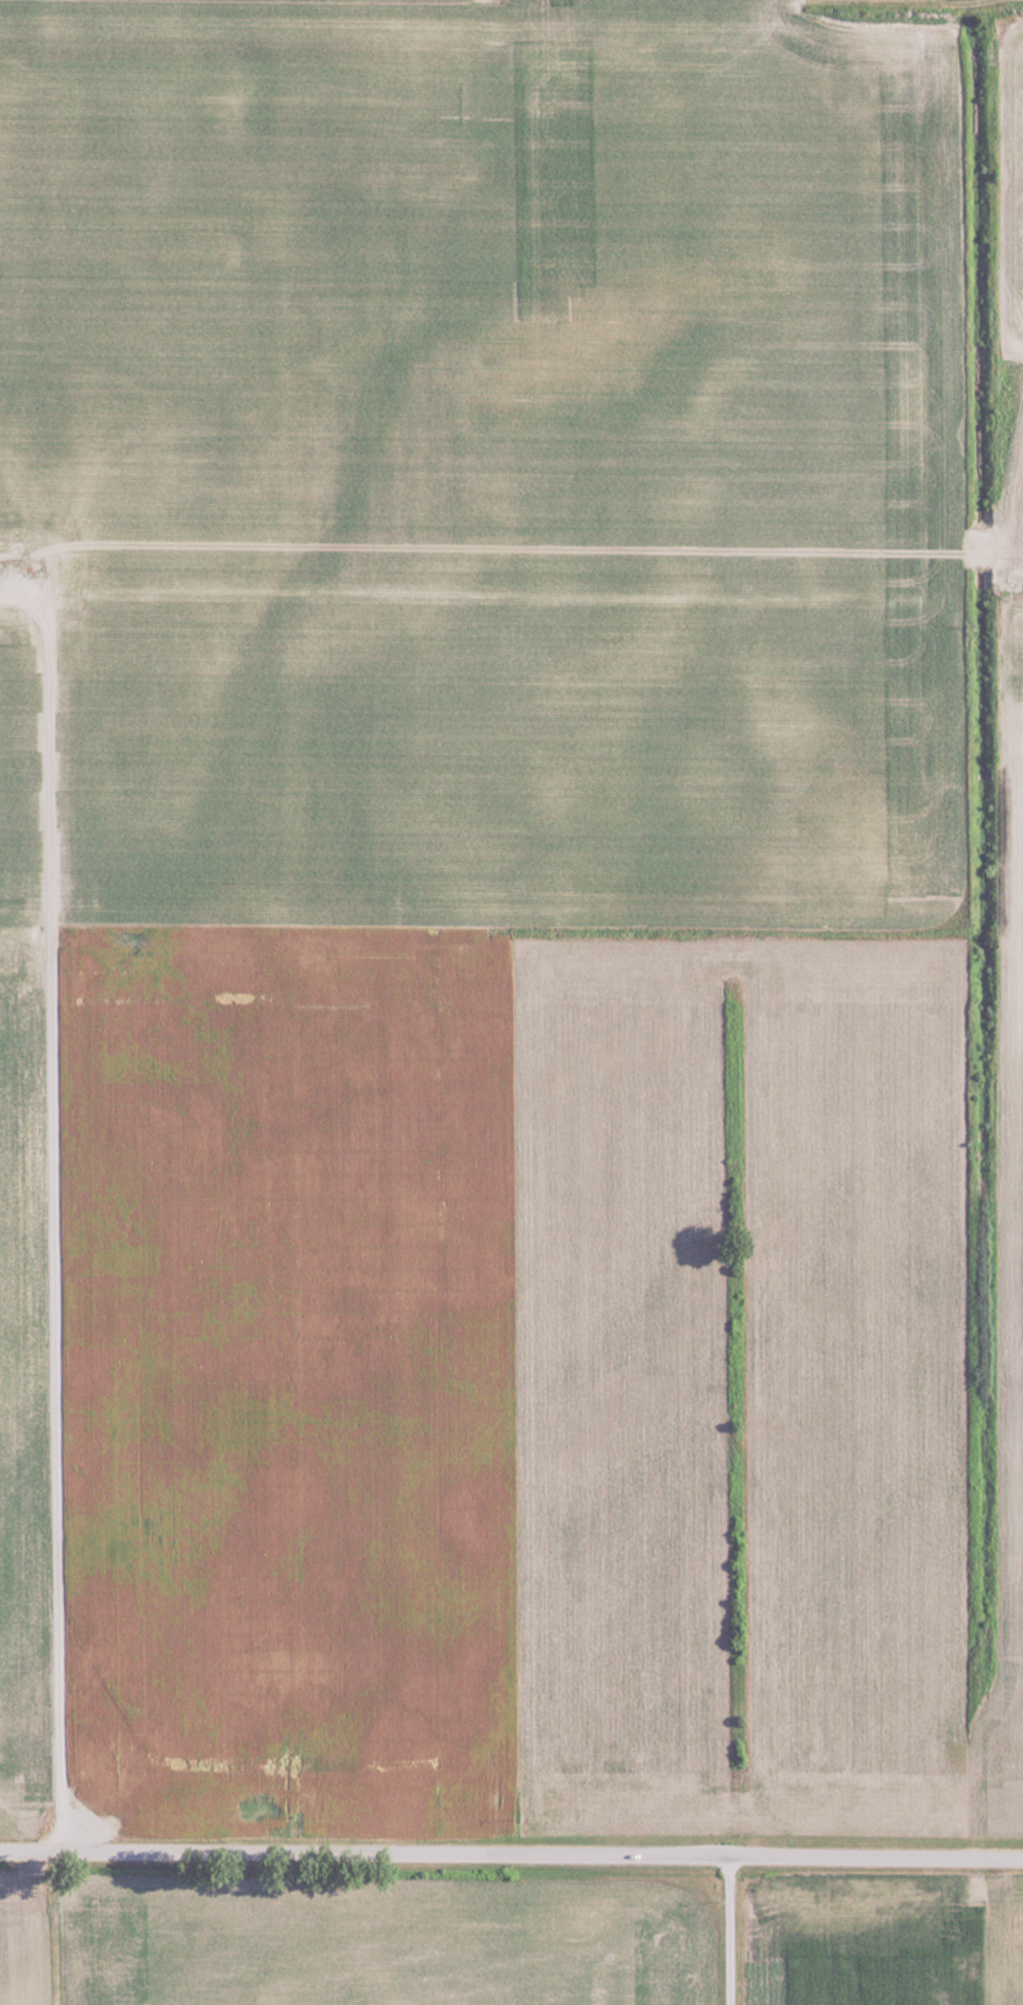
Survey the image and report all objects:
road: (511, 1859)
road: (57, 1930)

